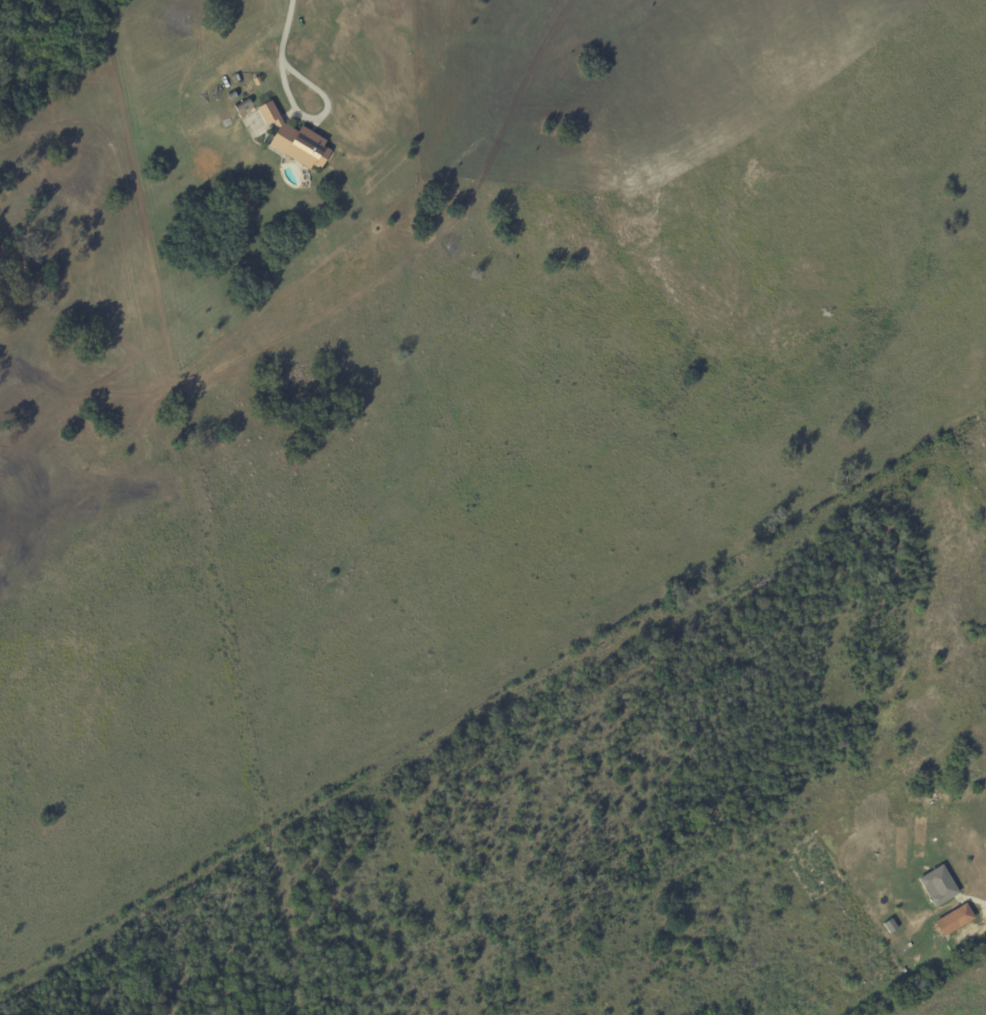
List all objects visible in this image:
road: (287, 50)
building: (298, 141)
building: (935, 885)
building: (950, 920)
building: (891, 926)

